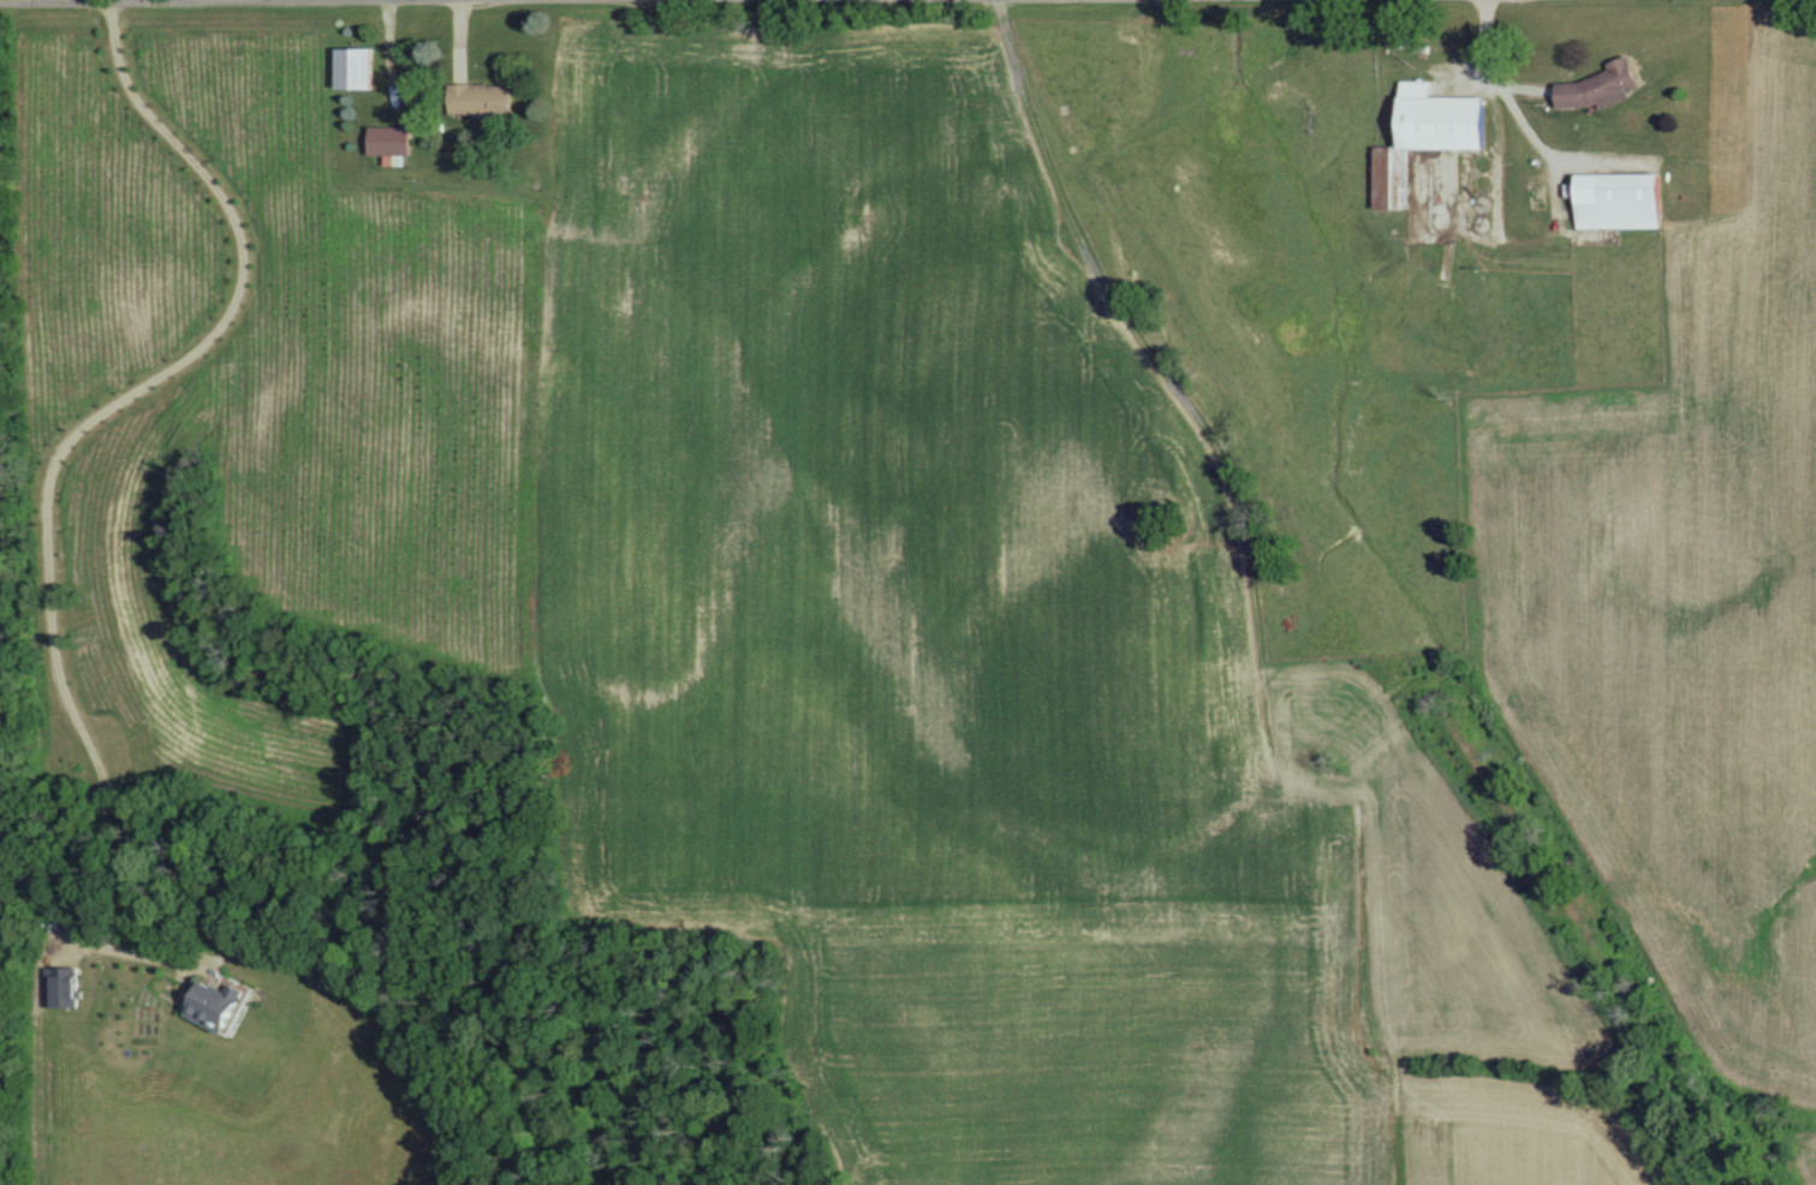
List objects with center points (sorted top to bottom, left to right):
building: (362, 67)
building: (1603, 84)
road: (1490, 90)
building: (487, 97)
building: (1428, 136)
building: (397, 139)
building: (1534, 180)
building: (1624, 200)
road: (52, 464)
building: (215, 1004)

